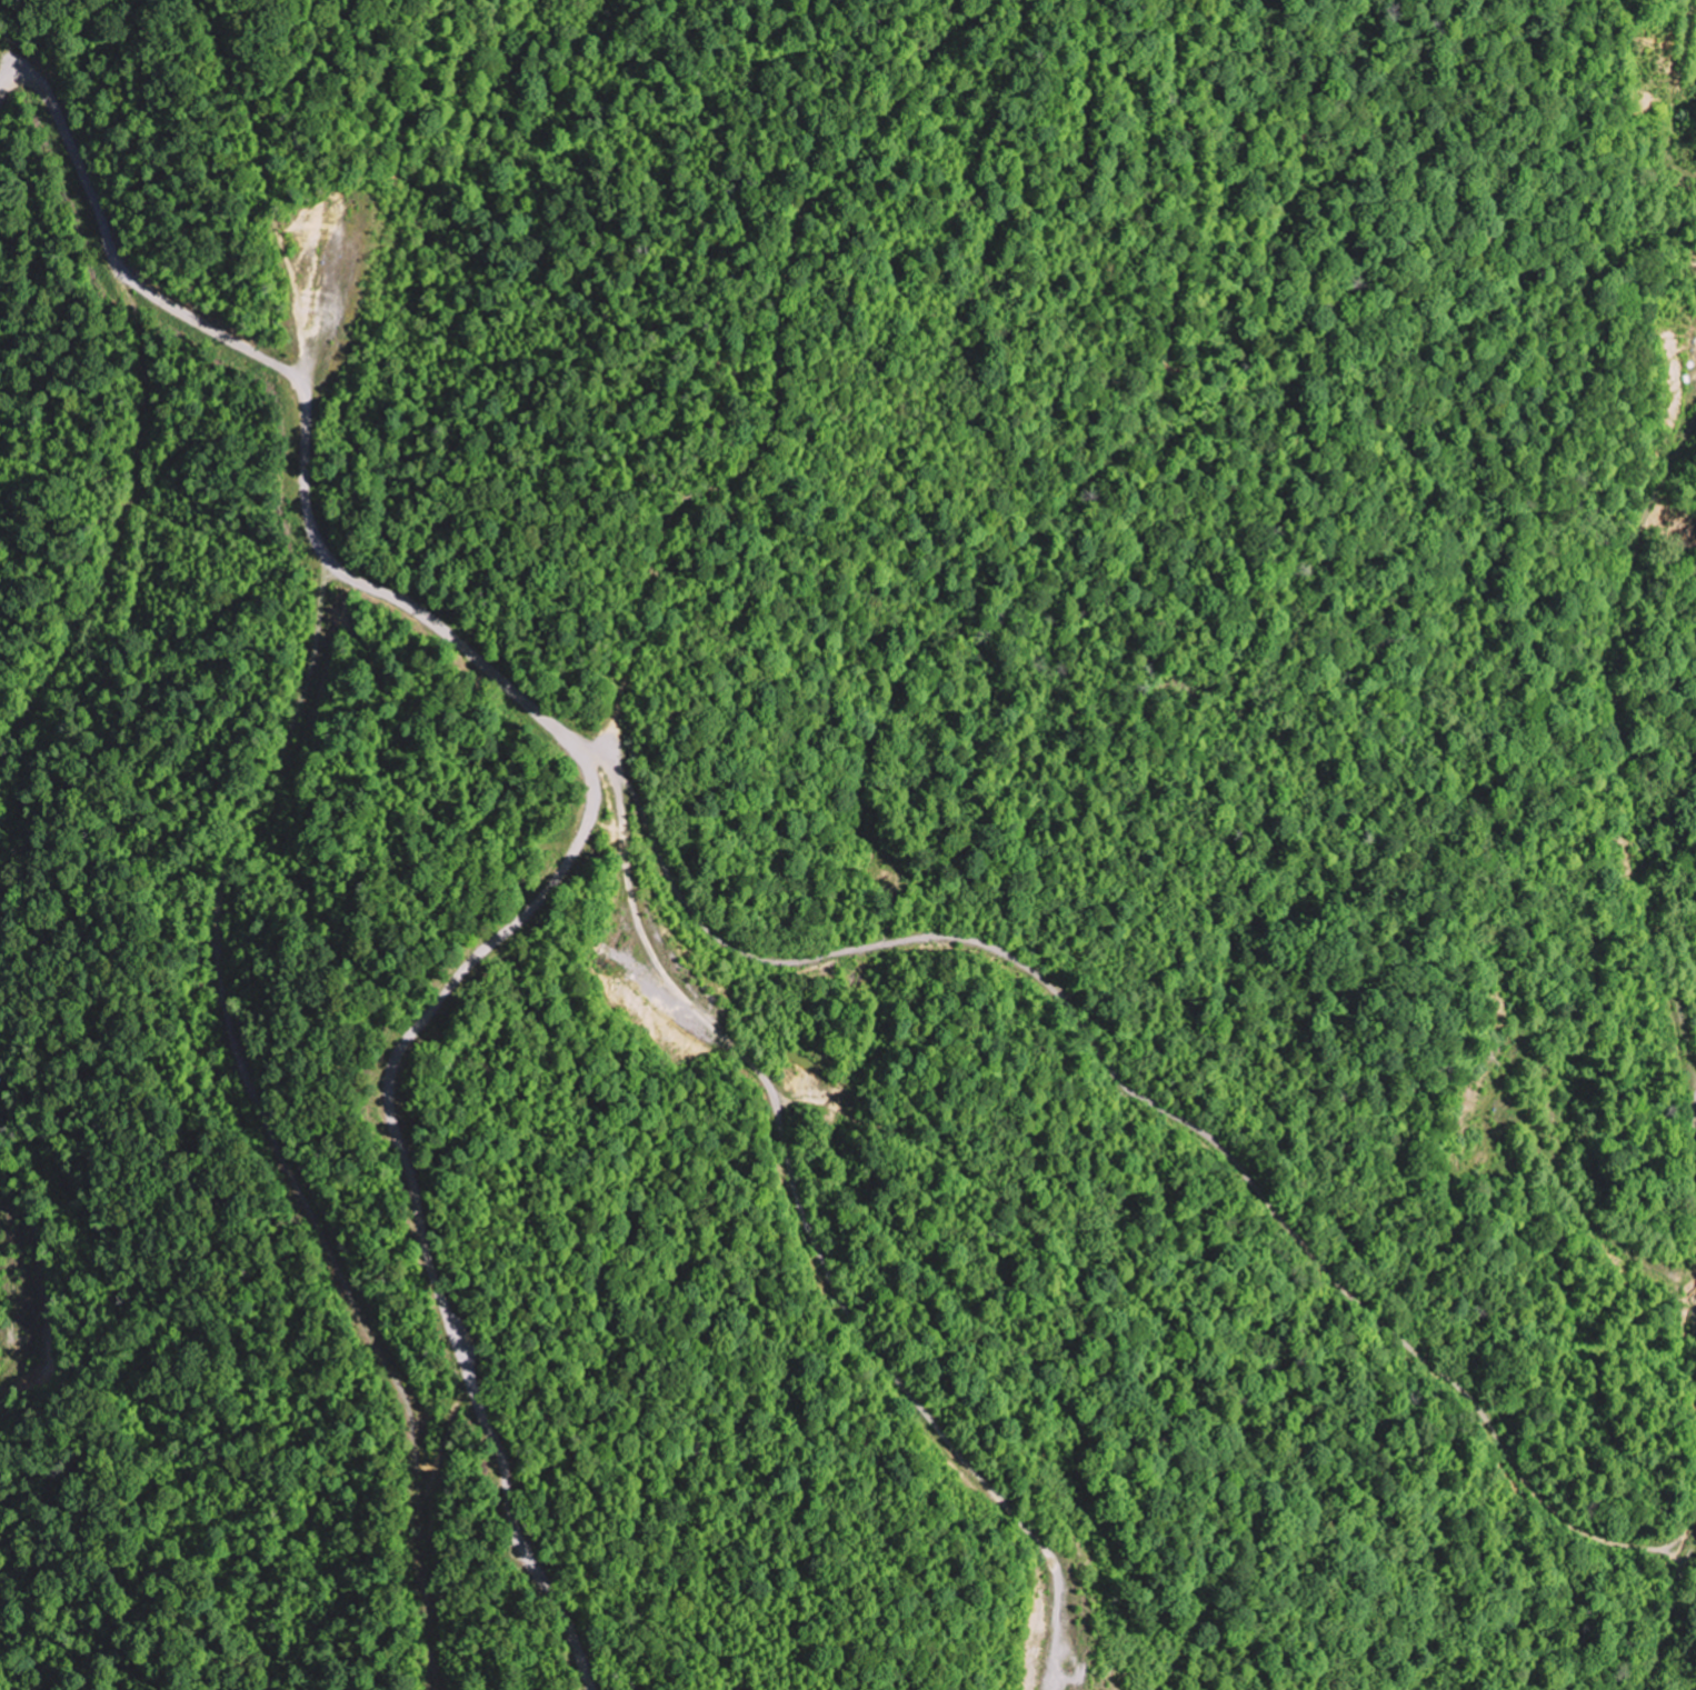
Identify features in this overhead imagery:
road: (1675, 92)
road: (777, 379)
road: (1622, 747)
road: (592, 789)
road: (1154, 1102)
road: (1695, 1109)
road: (269, 1128)
road: (815, 1243)
road: (1689, 1282)
road: (1695, 1346)
road: (1674, 1621)

